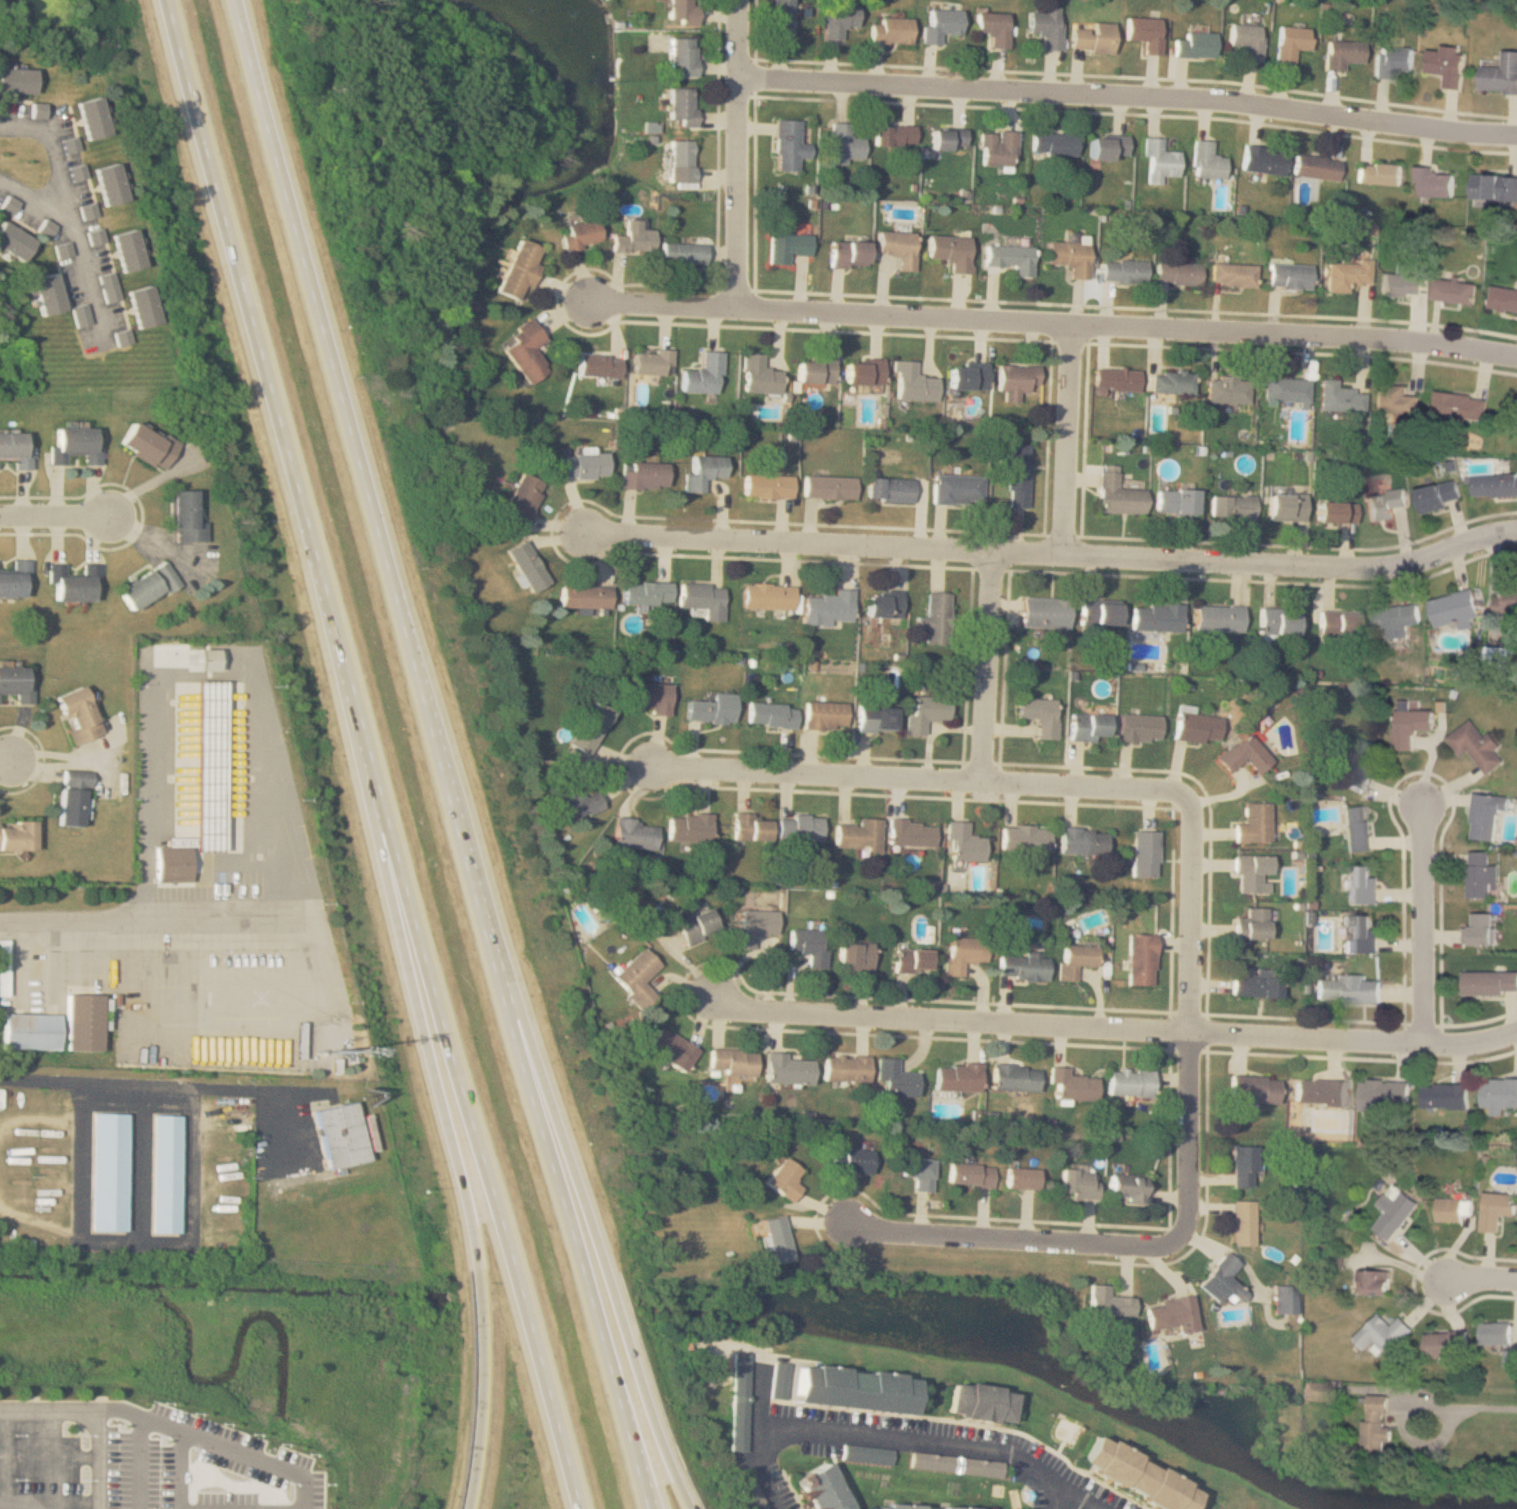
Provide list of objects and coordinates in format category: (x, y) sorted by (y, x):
building: (682, 12)
building: (782, 18)
building: (840, 20)
building: (942, 24)
building: (1046, 27)
building: (993, 28)
building: (891, 31)
building: (1145, 33)
building: (1093, 38)
building: (1246, 41)
building: (1290, 43)
building: (1194, 44)
building: (1342, 54)
building: (681, 57)
building: (1392, 61)
building: (1447, 64)
building: (1500, 75)
building: (16, 81)
road: (1131, 92)
building: (682, 106)
building: (38, 111)
building: (91, 118)
building: (895, 135)
building: (948, 139)
building: (846, 144)
building: (1054, 144)
building: (789, 145)
building: (69, 146)
building: (1108, 147)
building: (998, 148)
road: (742, 154)
building: (1263, 159)
building: (682, 161)
building: (1207, 161)
building: (1159, 162)
building: (1315, 167)
building: (1378, 174)
building: (1434, 182)
building: (109, 185)
building: (1494, 187)
road: (36, 197)
building: (9, 205)
road: (70, 211)
building: (88, 212)
building: (46, 229)
building: (581, 234)
building: (95, 238)
building: (633, 238)
building: (14, 242)
building: (786, 244)
building: (898, 247)
building: (950, 251)
building: (128, 252)
building: (683, 254)
building: (847, 254)
building: (64, 255)
building: (1009, 257)
building: (1068, 257)
building: (519, 270)
building: (1122, 271)
building: (1177, 273)
building: (1232, 274)
building: (1287, 275)
building: (1344, 275)
building: (1401, 284)
building: (110, 288)
building: (1454, 290)
building: (46, 295)
building: (1503, 298)
building: (143, 308)
building: (82, 316)
road: (1055, 323)
building: (123, 338)
building: (525, 352)
building: (652, 363)
building: (599, 365)
building: (815, 370)
building: (862, 372)
building: (704, 374)
building: (758, 375)
building: (967, 377)
building: (1016, 379)
building: (1116, 379)
building: (912, 382)
building: (1171, 382)
building: (1227, 389)
building: (1285, 389)
building: (1338, 397)
building: (1392, 399)
building: (1461, 406)
road: (1071, 440)
building: (74, 445)
building: (147, 446)
building: (15, 450)
building: (583, 465)
building: (703, 471)
building: (1016, 475)
building: (644, 476)
building: (1493, 485)
building: (766, 486)
building: (827, 487)
building: (887, 490)
building: (1115, 493)
building: (1438, 496)
building: (520, 499)
building: (1173, 502)
building: (1384, 504)
building: (1230, 506)
building: (1284, 507)
building: (1334, 513)
road: (57, 514)
building: (186, 518)
road: (1050, 554)
building: (527, 565)
building: (16, 579)
building: (73, 582)
building: (148, 584)
building: (646, 593)
building: (767, 595)
building: (584, 596)
building: (702, 598)
building: (1509, 599)
building: (882, 604)
building: (827, 607)
building: (1455, 608)
building: (1097, 610)
building: (1043, 611)
building: (1155, 616)
building: (935, 618)
building: (1217, 618)
building: (1396, 618)
building: (1277, 621)
building: (1338, 623)
building: (1500, 657)
building: (207, 658)
road: (989, 666)
road: (204, 676)
building: (16, 684)
building: (648, 697)
building: (711, 708)
building: (926, 712)
building: (78, 714)
building: (770, 714)
building: (1040, 714)
building: (824, 715)
building: (876, 719)
building: (1087, 726)
building: (1195, 726)
building: (1409, 726)
building: (1138, 727)
building: (589, 728)
building: (1477, 745)
building: (1242, 754)
road: (372, 755)
road: (441, 755)
road: (8, 760)
road: (77, 761)
building: (1360, 764)
road: (916, 777)
building: (73, 798)
building: (574, 802)
building: (1486, 814)
building: (1252, 824)
building: (750, 826)
building: (800, 827)
building: (689, 828)
building: (1356, 828)
building: (912, 833)
building: (635, 834)
building: (859, 834)
building: (17, 836)
building: (1024, 837)
building: (1082, 840)
building: (963, 842)
building: (1144, 853)
building: (174, 864)
building: (1251, 873)
building: (1481, 875)
building: (1363, 885)
road: (102, 916)
road: (1424, 922)
building: (1251, 924)
building: (755, 925)
building: (697, 926)
building: (1480, 928)
building: (1361, 932)
building: (809, 945)
building: (965, 953)
building: (855, 955)
building: (1141, 958)
building: (1076, 959)
building: (913, 960)
building: (1025, 967)
building: (3, 968)
building: (637, 977)
building: (1489, 982)
building: (1256, 985)
building: (1346, 989)
road: (264, 1003)
road: (1195, 1014)
building: (83, 1022)
road: (1115, 1026)
building: (30, 1031)
building: (673, 1048)
building: (733, 1062)
building: (846, 1068)
building: (790, 1069)
building: (959, 1077)
building: (1016, 1077)
building: (898, 1078)
building: (1132, 1082)
road: (117, 1084)
building: (1074, 1084)
building: (1255, 1088)
building: (1319, 1091)
building: (1499, 1092)
building: (1381, 1094)
building: (1443, 1095)
road: (450, 1127)
building: (339, 1136)
building: (853, 1160)
building: (1245, 1166)
building: (108, 1172)
building: (920, 1172)
building: (971, 1173)
building: (165, 1174)
building: (1020, 1178)
building: (784, 1179)
building: (1080, 1182)
building: (1128, 1187)
building: (1449, 1208)
building: (1494, 1209)
building: (1391, 1213)
road: (589, 1216)
building: (1243, 1221)
road: (1014, 1237)
building: (775, 1239)
road: (1243, 1261)
building: (1221, 1277)
building: (1374, 1282)
road: (1479, 1282)
building: (1286, 1300)
building: (1107, 1302)
building: (1170, 1313)
building: (1494, 1332)
building: (1382, 1333)
building: (1443, 1343)
building: (1510, 1357)
building: (778, 1379)
building: (852, 1387)
building: (738, 1400)
building: (976, 1400)
road: (1468, 1407)
road: (101, 1411)
building: (1376, 1424)
road: (881, 1434)
building: (865, 1453)
building: (955, 1463)
building: (1135, 1475)
building: (823, 1486)
building: (752, 1494)
road: (1081, 1496)
building: (924, 1504)

